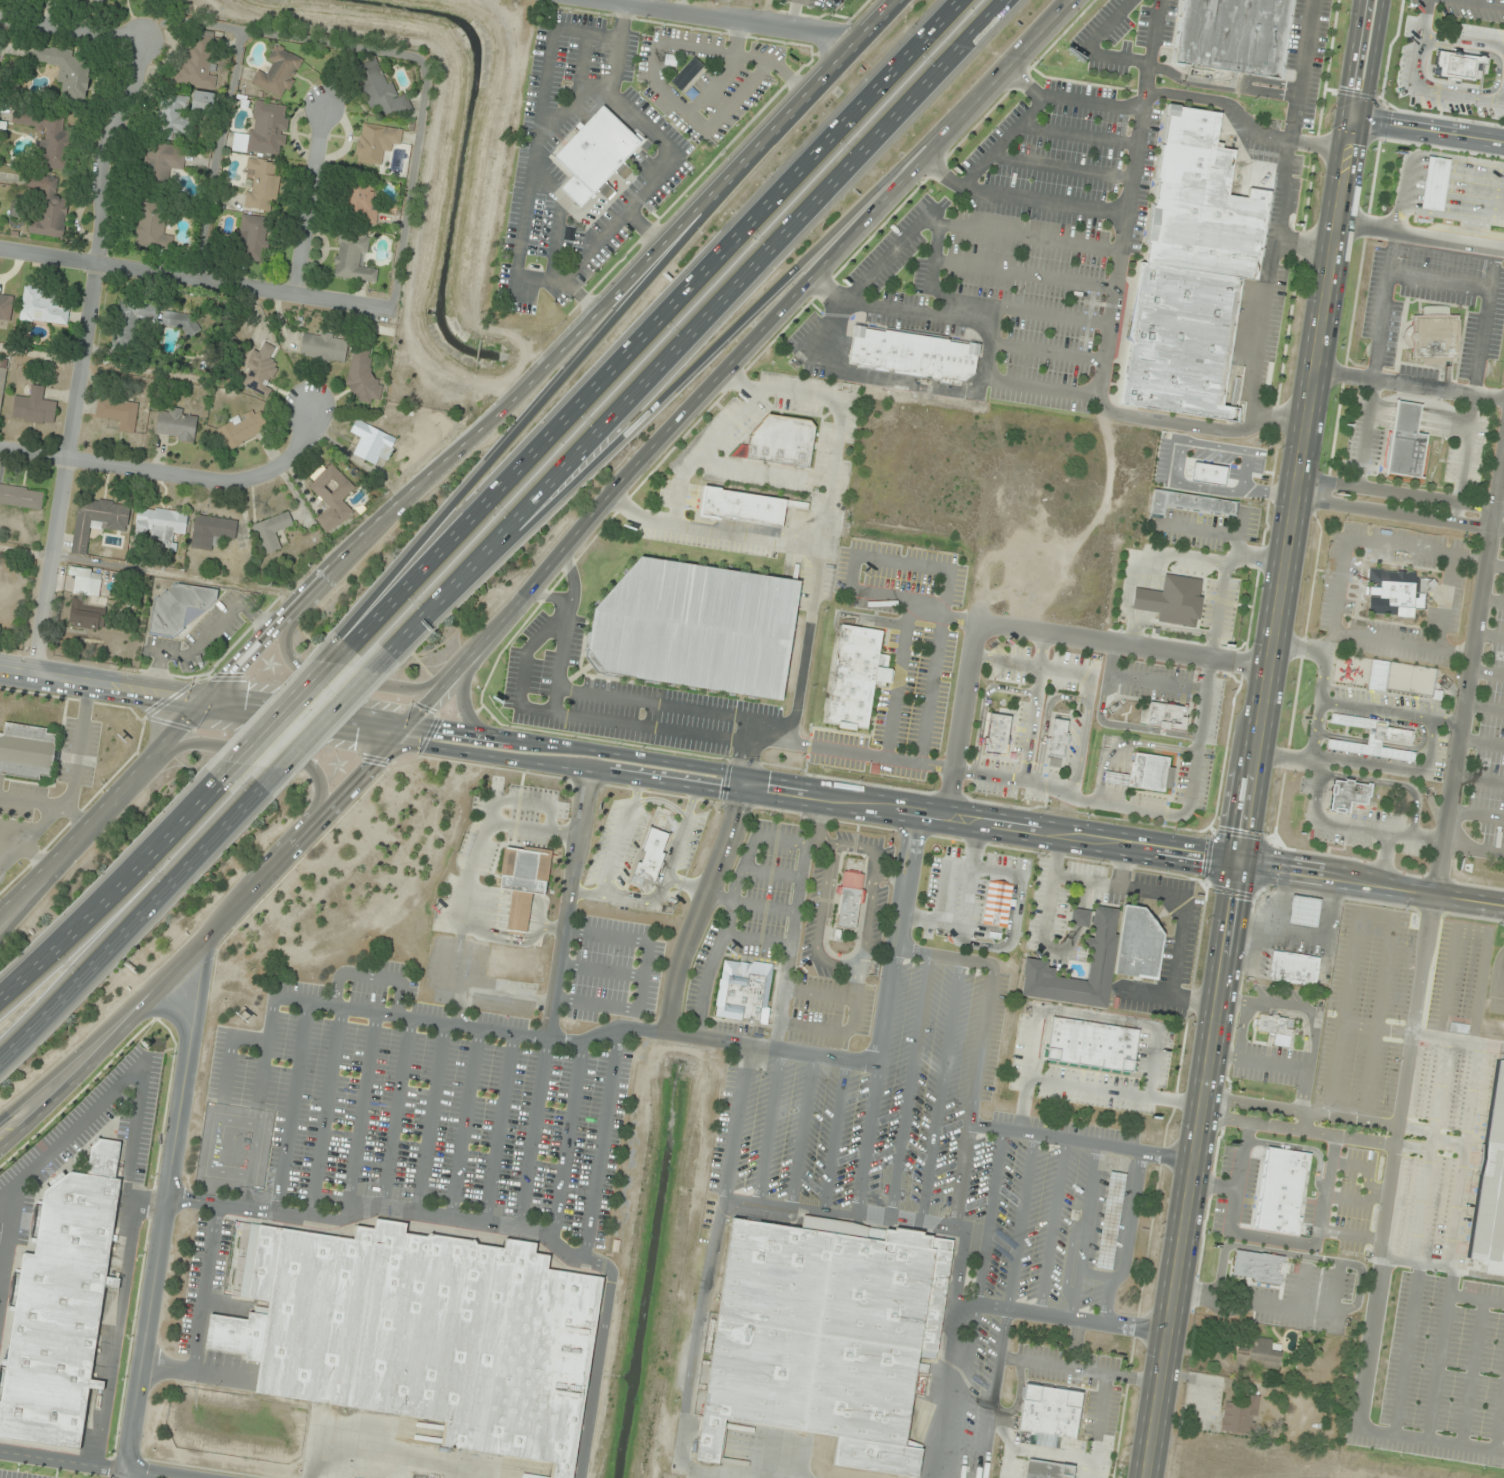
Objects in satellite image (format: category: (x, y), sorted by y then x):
road: (1485, 2)
road: (1501, 3)
road: (888, 14)
road: (792, 17)
road: (721, 22)
road: (72, 28)
building: (1231, 36)
road: (1463, 42)
road: (1090, 46)
road: (549, 48)
road: (616, 49)
road: (1149, 49)
road: (738, 56)
building: (197, 64)
road: (582, 64)
building: (1456, 66)
building: (65, 71)
building: (279, 73)
building: (687, 75)
road: (722, 75)
road: (1497, 75)
road: (1259, 80)
road: (1220, 85)
road: (1417, 86)
building: (380, 90)
road: (1067, 101)
road: (566, 107)
building: (171, 117)
traffic signals: (1350, 118)
road: (697, 126)
road: (1427, 129)
building: (265, 130)
road: (1077, 133)
building: (48, 137)
road: (1000, 141)
building: (375, 143)
building: (595, 156)
building: (163, 161)
road: (1059, 166)
road: (657, 176)
building: (1434, 184)
building: (261, 185)
gas station: (1432, 186)
road: (1020, 197)
building: (361, 201)
road: (310, 202)
building: (48, 208)
road: (1278, 212)
building: (151, 225)
road: (522, 231)
road: (644, 231)
road: (1419, 237)
building: (253, 239)
road: (1028, 239)
road: (1302, 244)
road: (555, 246)
road: (1119, 249)
road: (888, 253)
building: (352, 259)
road: (1023, 274)
building: (1188, 275)
road: (197, 278)
road: (1438, 283)
road: (583, 296)
road: (986, 305)
road: (1383, 307)
building: (45, 308)
road: (945, 308)
road: (900, 309)
building: (3, 310)
road: (743, 312)
building: (148, 319)
road: (1483, 321)
road: (697, 322)
road: (661, 324)
building: (1431, 336)
building: (323, 348)
road: (1045, 352)
road: (85, 353)
building: (911, 354)
building: (259, 373)
building: (363, 378)
road: (871, 380)
road: (1004, 382)
building: (2, 384)
road: (1408, 385)
building: (34, 407)
building: (118, 414)
road: (1418, 420)
building: (176, 425)
road: (729, 425)
building: (242, 429)
road: (1365, 433)
building: (778, 440)
building: (1403, 441)
road: (1503, 441)
building: (372, 443)
road: (498, 450)
road: (1463, 459)
road: (451, 462)
road: (764, 471)
road: (171, 472)
building: (1207, 474)
road: (1500, 479)
road: (627, 485)
road: (678, 489)
road: (1401, 493)
building: (21, 497)
building: (332, 498)
building: (1188, 502)
building: (741, 505)
road: (1399, 515)
road: (825, 519)
building: (96, 521)
building: (159, 525)
road: (1197, 530)
building: (272, 531)
road: (714, 531)
building: (211, 532)
road: (1158, 556)
road: (1260, 559)
road: (1494, 567)
road: (946, 569)
building: (92, 582)
road: (1221, 583)
road: (1338, 583)
building: (1392, 592)
road: (547, 597)
building: (1169, 599)
road: (1491, 601)
road: (1444, 602)
building: (179, 609)
building: (87, 613)
road: (942, 617)
building: (693, 627)
road: (1164, 627)
road: (1024, 629)
road: (1489, 635)
road: (1400, 643)
road: (1301, 647)
road: (559, 658)
road: (1110, 660)
road: (1005, 663)
road: (1078, 673)
road: (1486, 673)
road: (339, 675)
building: (854, 675)
building: (1376, 675)
park: (1409, 679)
road: (1156, 683)
road: (897, 685)
traffic signals: (201, 704)
road: (982, 706)
road: (1034, 706)
road: (1484, 708)
road: (688, 709)
road: (472, 710)
road: (550, 711)
road: (1376, 711)
road: (282, 712)
building: (1163, 715)
road: (323, 721)
road: (1045, 722)
road: (1447, 722)
road: (1125, 726)
road: (1419, 726)
building: (995, 732)
building: (1369, 733)
building: (1390, 733)
traffic signals: (399, 737)
building: (1056, 737)
road: (1340, 738)
road: (1261, 739)
road: (1481, 742)
road: (1373, 743)
road: (76, 747)
road: (1080, 750)
building: (26, 751)
road: (851, 753)
road: (262, 754)
parking lot: (75, 755)
road: (1290, 759)
road: (1395, 769)
road: (620, 771)
building: (1142, 773)
road: (1478, 779)
road: (1389, 783)
building: (1346, 794)
road: (47, 807)
road: (1144, 811)
road: (1476, 815)
road: (50, 821)
road: (1352, 827)
road: (19, 830)
parking lot: (15, 841)
road: (1473, 848)
road: (19, 850)
building: (651, 854)
road: (1382, 859)
road: (33, 860)
traffic signals: (1243, 864)
road: (996, 872)
building: (522, 882)
road: (945, 882)
road: (42, 883)
road: (1373, 885)
road: (108, 888)
building: (849, 900)
road: (567, 902)
building: (995, 904)
road: (965, 906)
road: (699, 910)
building: (1302, 912)
building: (1079, 918)
road: (129, 925)
road: (1428, 930)
road: (1009, 940)
building: (1101, 958)
building: (1292, 969)
road: (369, 976)
building: (743, 993)
road: (357, 1010)
road: (122, 1013)
building: (1274, 1029)
building: (1090, 1046)
road: (979, 1047)
road: (229, 1052)
road: (834, 1057)
road: (94, 1059)
road: (133, 1072)
road: (909, 1086)
road: (940, 1091)
road: (290, 1107)
road: (395, 1112)
road: (325, 1113)
road: (360, 1115)
road: (429, 1117)
road: (736, 1121)
road: (463, 1123)
road: (768, 1126)
road: (498, 1128)
road: (802, 1130)
road: (532, 1133)
road: (834, 1135)
road: (866, 1140)
road: (567, 1141)
road: (1081, 1141)
road: (602, 1144)
building: (1490, 1187)
road: (388, 1207)
road: (988, 1217)
road: (160, 1220)
building: (1109, 1220)
gas station: (1109, 1220)
road: (1019, 1221)
road: (1053, 1226)
road: (6, 1230)
road: (1085, 1231)
road: (1126, 1238)
road: (2, 1250)
road: (959, 1253)
building: (1257, 1268)
road: (204, 1287)
building: (59, 1304)
building: (421, 1332)
building: (825, 1336)
building: (1263, 1350)
road: (694, 1351)
road: (191, 1370)
road: (595, 1370)
road: (950, 1390)
road: (992, 1393)
building: (1049, 1414)
building: (1242, 1414)
road: (381, 1451)
road: (62, 1461)
building: (1047, 1469)
road: (146, 1474)

